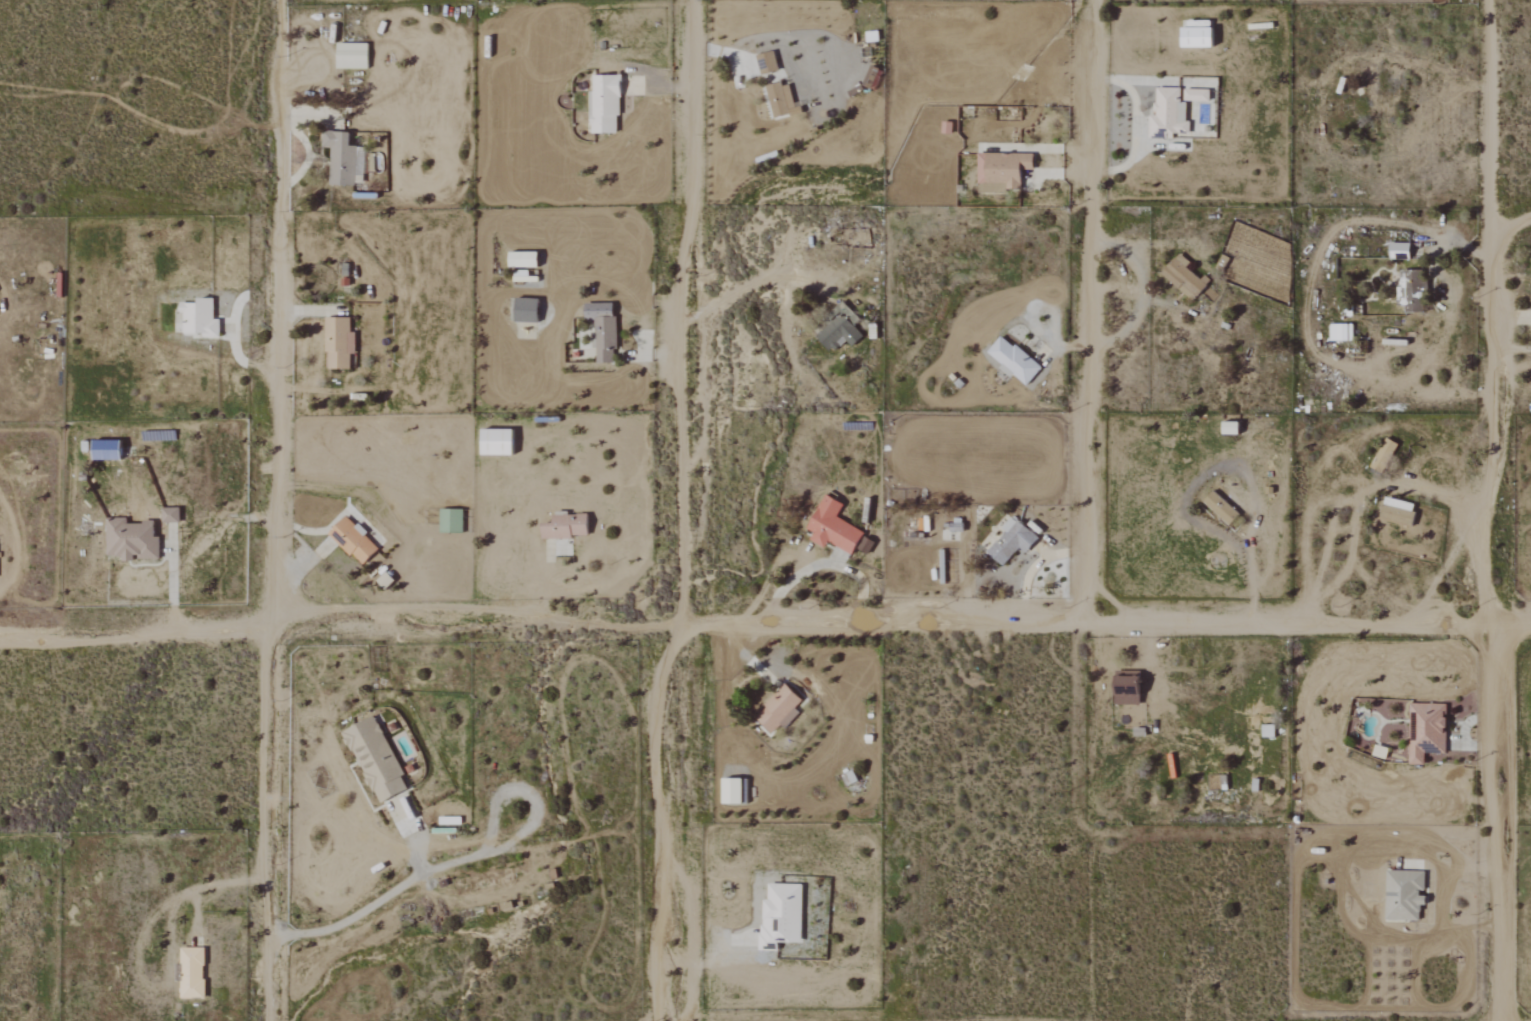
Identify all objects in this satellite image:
building: (353, 56)
road: (1413, 60)
building: (767, 63)
building: (1197, 95)
building: (781, 99)
building: (605, 105)
building: (1169, 114)
road: (1134, 127)
building: (341, 158)
building: (1003, 172)
road: (1512, 231)
building: (1400, 251)
building: (524, 259)
building: (1184, 277)
road: (750, 284)
building: (1412, 290)
road: (1307, 298)
building: (527, 310)
road: (1087, 310)
road: (681, 312)
building: (200, 318)
road: (233, 329)
building: (840, 329)
building: (603, 331)
building: (1342, 332)
building: (339, 343)
building: (1015, 361)
building: (1232, 428)
building: (498, 443)
building: (107, 450)
building: (1385, 456)
road: (1353, 497)
building: (1222, 509)
road: (280, 510)
road: (1493, 510)
building: (171, 515)
building: (452, 521)
building: (567, 527)
building: (834, 528)
building: (132, 540)
building: (1013, 541)
road: (1243, 562)
road: (822, 564)
road: (1443, 567)
road: (173, 582)
road: (1106, 622)
road: (341, 623)
building: (1129, 689)
building: (778, 707)
building: (1269, 730)
building: (1427, 731)
building: (376, 759)
building: (733, 790)
road: (657, 820)
building: (1405, 895)
road: (373, 903)
building: (782, 915)
road: (167, 946)
road: (710, 962)
building: (193, 973)

